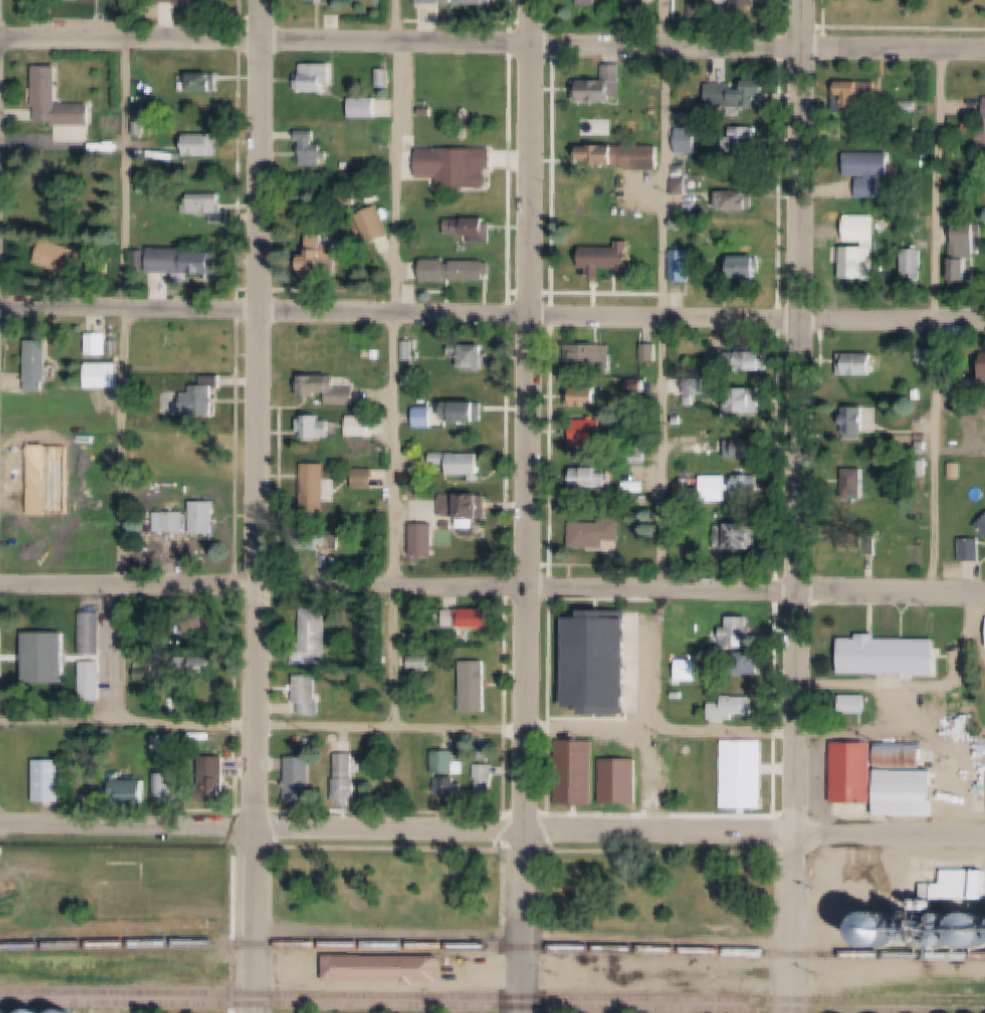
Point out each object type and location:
building: (48, 1)
building: (441, 1)
building: (479, 2)
building: (593, 2)
building: (199, 3)
building: (750, 3)
road: (268, 42)
road: (761, 47)
building: (411, 72)
building: (317, 78)
building: (386, 78)
building: (209, 83)
building: (480, 91)
building: (598, 91)
building: (747, 94)
building: (863, 94)
building: (59, 102)
building: (366, 107)
building: (142, 113)
building: (699, 116)
building: (142, 128)
building: (414, 129)
building: (699, 135)
building: (744, 142)
building: (105, 145)
building: (203, 145)
building: (314, 149)
building: (605, 154)
building: (650, 157)
building: (460, 165)
building: (873, 172)
road: (941, 183)
building: (146, 186)
building: (682, 186)
building: (902, 193)
building: (739, 201)
building: (212, 206)
building: (906, 209)
building: (389, 215)
building: (377, 225)
building: (476, 227)
building: (412, 235)
building: (325, 249)
building: (967, 252)
building: (69, 258)
building: (142, 258)
building: (612, 259)
building: (185, 260)
building: (858, 262)
building: (915, 263)
building: (685, 266)
building: (751, 268)
building: (478, 270)
building: (413, 274)
road: (267, 311)
road: (760, 316)
building: (99, 344)
building: (411, 350)
building: (406, 353)
building: (654, 353)
building: (474, 355)
building: (41, 359)
road: (121, 359)
building: (592, 359)
building: (750, 359)
building: (863, 365)
building: (104, 375)
building: (410, 380)
building: (698, 386)
building: (331, 389)
building: (587, 397)
building: (205, 398)
building: (692, 401)
building: (747, 402)
building: (470, 411)
road: (260, 414)
road: (800, 416)
building: (427, 417)
building: (856, 421)
building: (315, 427)
building: (361, 427)
building: (590, 433)
building: (754, 451)
road: (934, 453)
building: (458, 464)
building: (366, 477)
building: (591, 479)
building: (863, 484)
building: (318, 486)
building: (720, 489)
building: (748, 489)
building: (89, 493)
road: (533, 506)
building: (466, 507)
building: (206, 517)
building: (176, 522)
building: (983, 526)
building: (605, 533)
building: (741, 538)
building: (427, 540)
building: (859, 550)
building: (975, 550)
road: (266, 585)
road: (758, 589)
building: (478, 619)
building: (206, 621)
building: (683, 624)
building: (93, 632)
building: (740, 635)
building: (318, 636)
building: (894, 657)
building: (48, 658)
building: (379, 662)
building: (754, 663)
building: (420, 664)
building: (146, 670)
building: (679, 678)
building: (92, 680)
building: (476, 687)
building: (311, 693)
building: (735, 708)
road: (398, 721)
building: (300, 741)
building: (309, 741)
building: (158, 742)
building: (170, 750)
building: (902, 756)
building: (449, 762)
building: (348, 765)
building: (464, 767)
building: (579, 772)
building: (856, 773)
building: (217, 778)
building: (746, 778)
building: (303, 779)
building: (50, 781)
building: (488, 782)
building: (451, 786)
building: (173, 788)
building: (349, 789)
building: (131, 792)
building: (908, 793)
building: (637, 794)
building: (657, 794)
road: (264, 828)
road: (757, 832)
building: (976, 888)
road: (256, 920)
road: (793, 922)
railway: (103, 927)
building: (883, 931)
silo: (883, 931)
building: (972, 931)
silo: (972, 931)
building: (930, 934)
road: (524, 937)
railway: (492, 947)
building: (388, 969)
railway: (492, 996)
railway: (492, 1007)
building: (3, 1011)
silo: (3, 1011)
building: (36, 1012)
silo: (36, 1012)
building: (65, 1012)
silo: (65, 1012)

